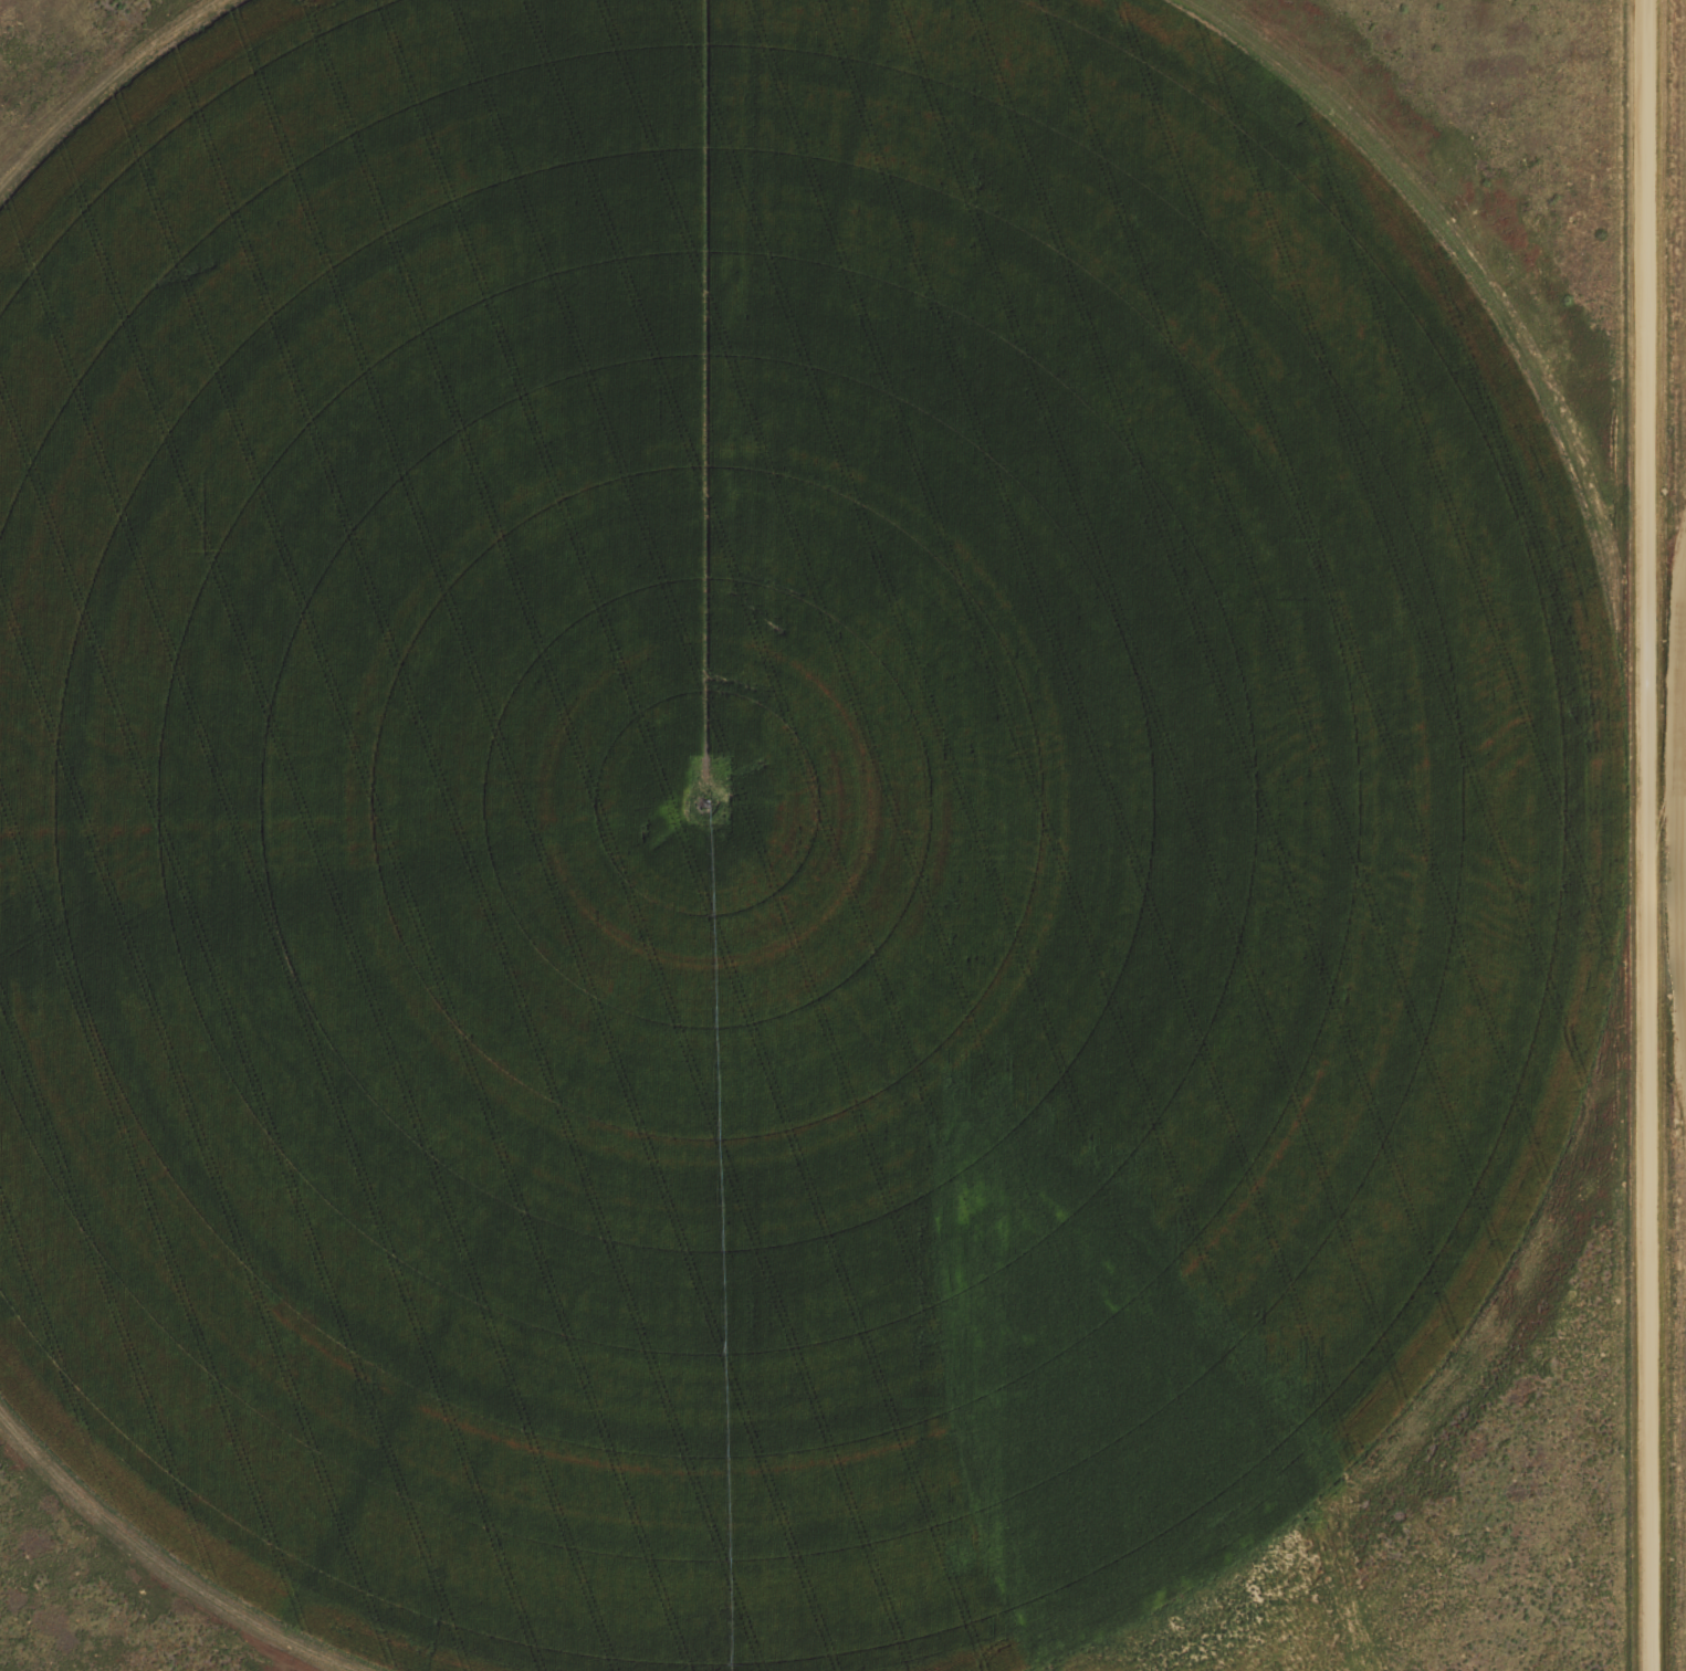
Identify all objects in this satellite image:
road: (1652, 835)

